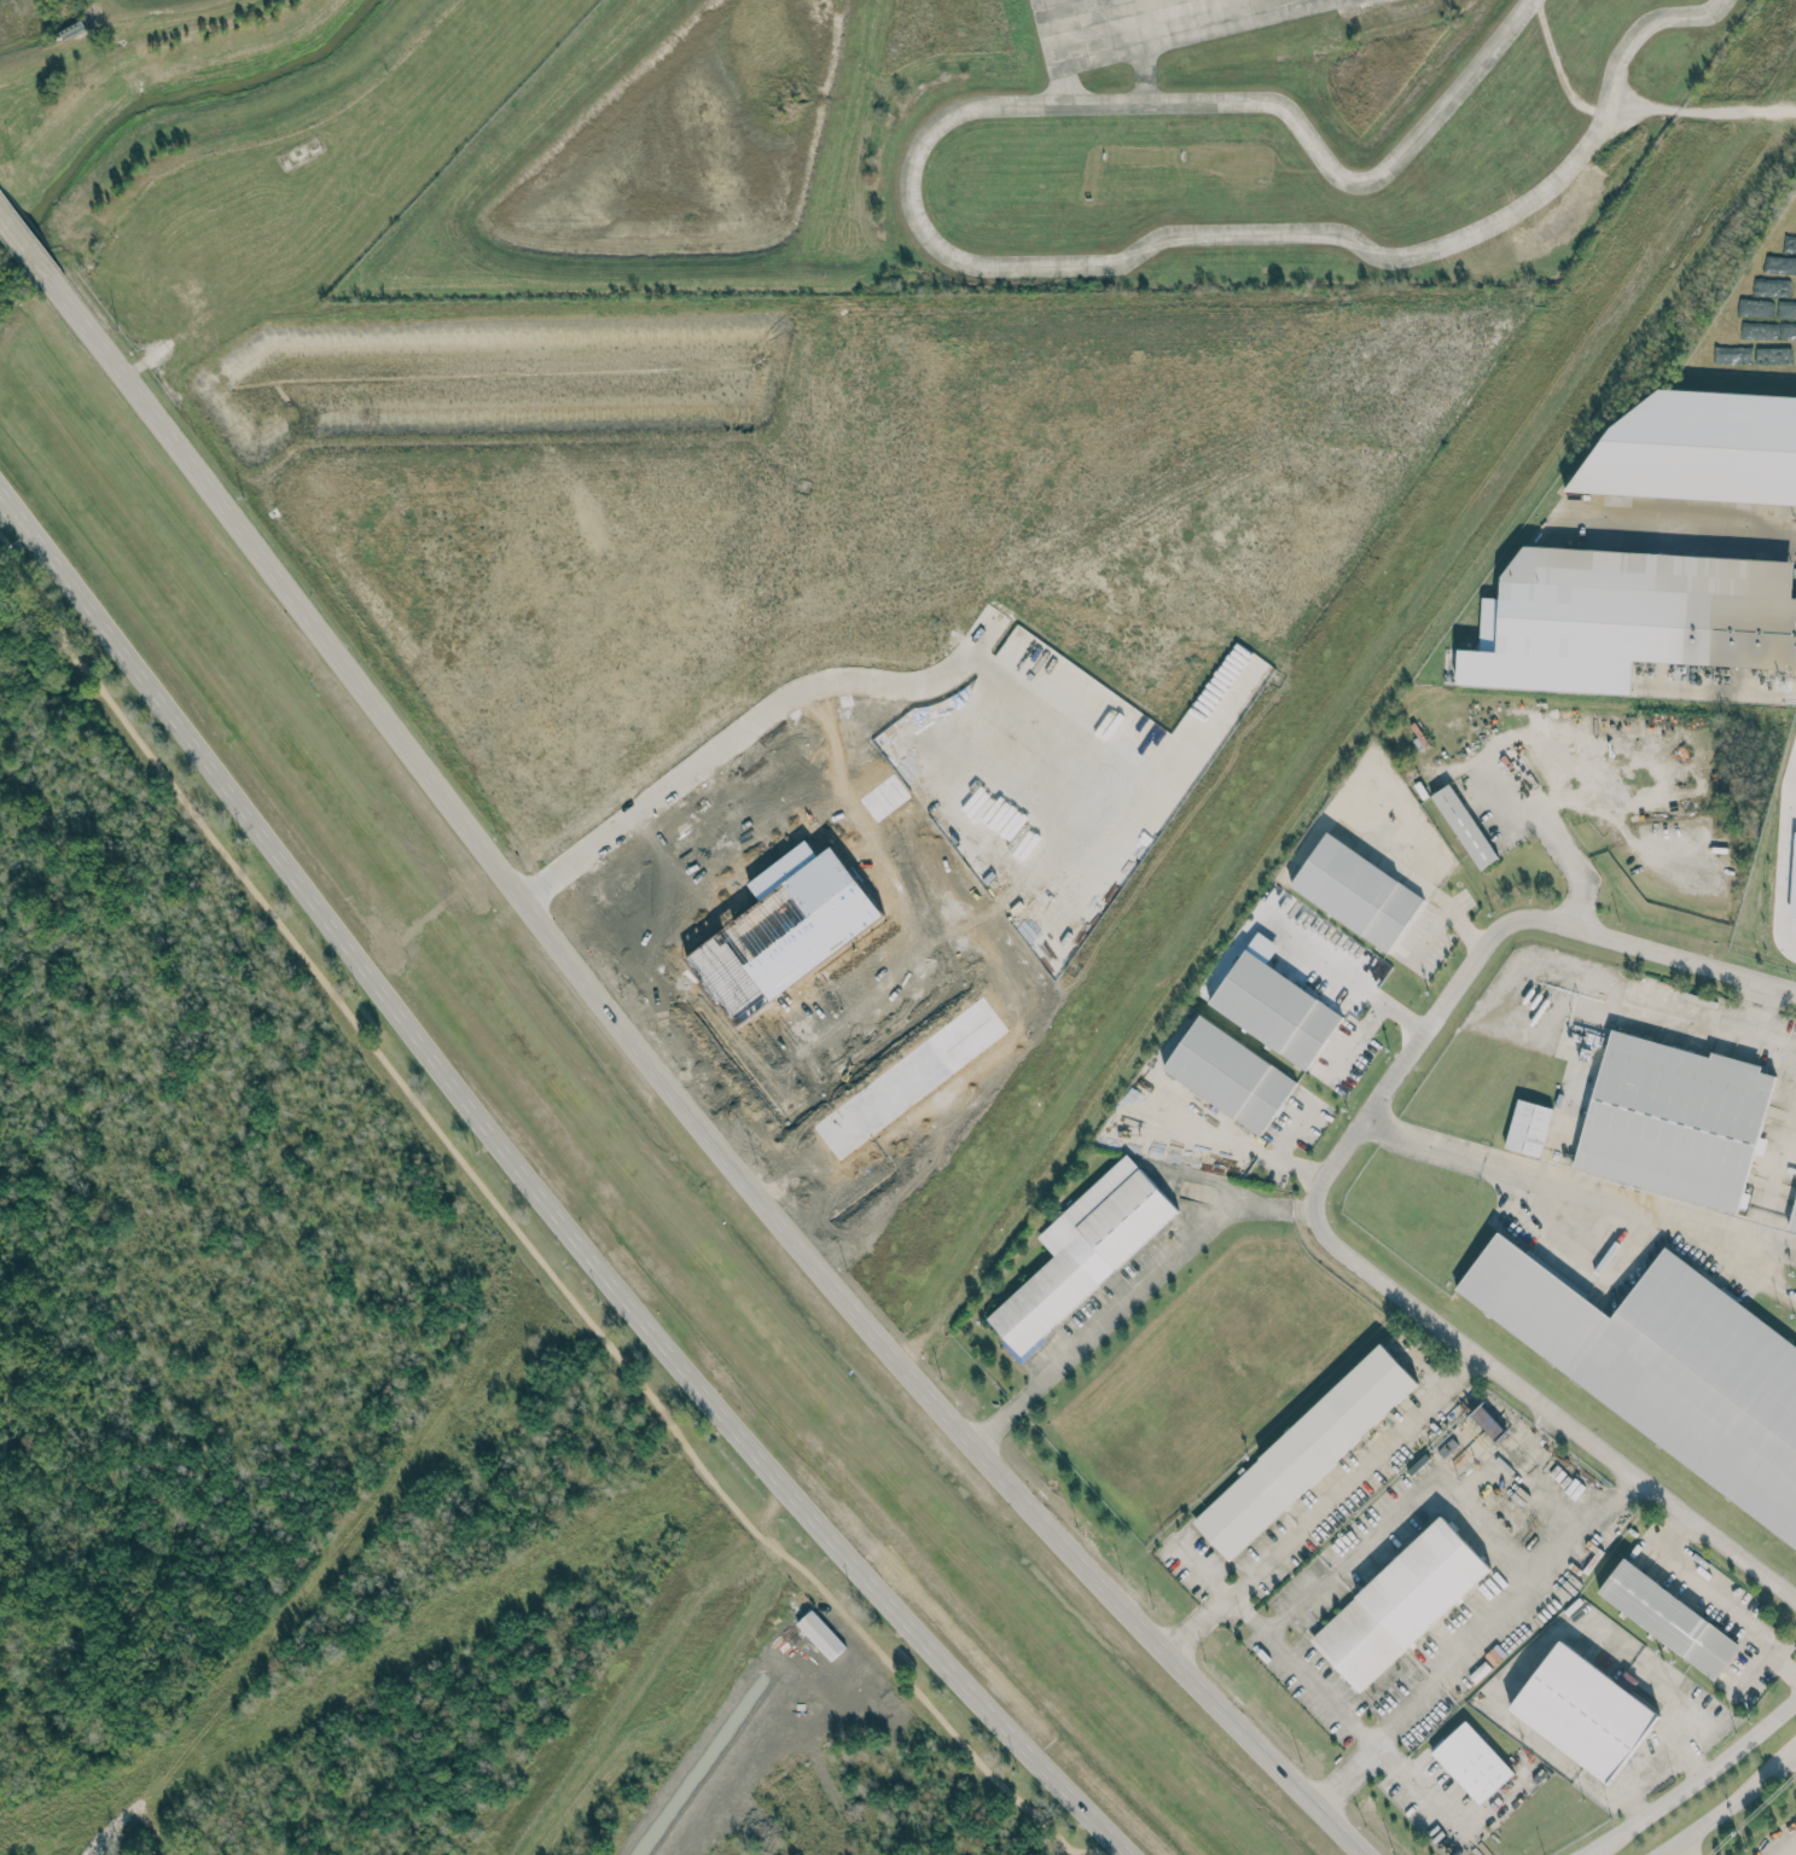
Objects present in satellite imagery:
road: (1641, 23)
road: (1699, 110)
road: (908, 202)
road: (23, 243)
building: (1698, 448)
road: (1678, 533)
building: (1632, 617)
building: (1463, 826)
road: (1568, 857)
road: (1405, 876)
building: (1356, 891)
road: (1426, 936)
road: (1326, 966)
road: (1753, 1008)
building: (1274, 1011)
road: (1366, 1020)
road: (1709, 1025)
building: (1230, 1075)
road: (672, 1094)
building: (1673, 1121)
building: (1528, 1128)
road: (1779, 1145)
road: (1278, 1150)
road: (1576, 1190)
road: (537, 1197)
road: (1312, 1197)
building: (1791, 1214)
road: (521, 1235)
building: (1083, 1250)
road: (1738, 1261)
road: (1129, 1297)
building: (1664, 1368)
building: (1303, 1450)
road: (1403, 1501)
road: (1323, 1504)
building: (1399, 1601)
building: (1668, 1620)
road: (1744, 1620)
road: (1477, 1642)
building: (797, 1648)
road: (1780, 1664)
road: (1634, 1670)
building: (1582, 1710)
road: (1347, 1717)
road: (1690, 1761)
building: (1471, 1762)
road: (1565, 1764)
road: (1696, 1779)
road: (1727, 1803)
road: (1685, 1848)

